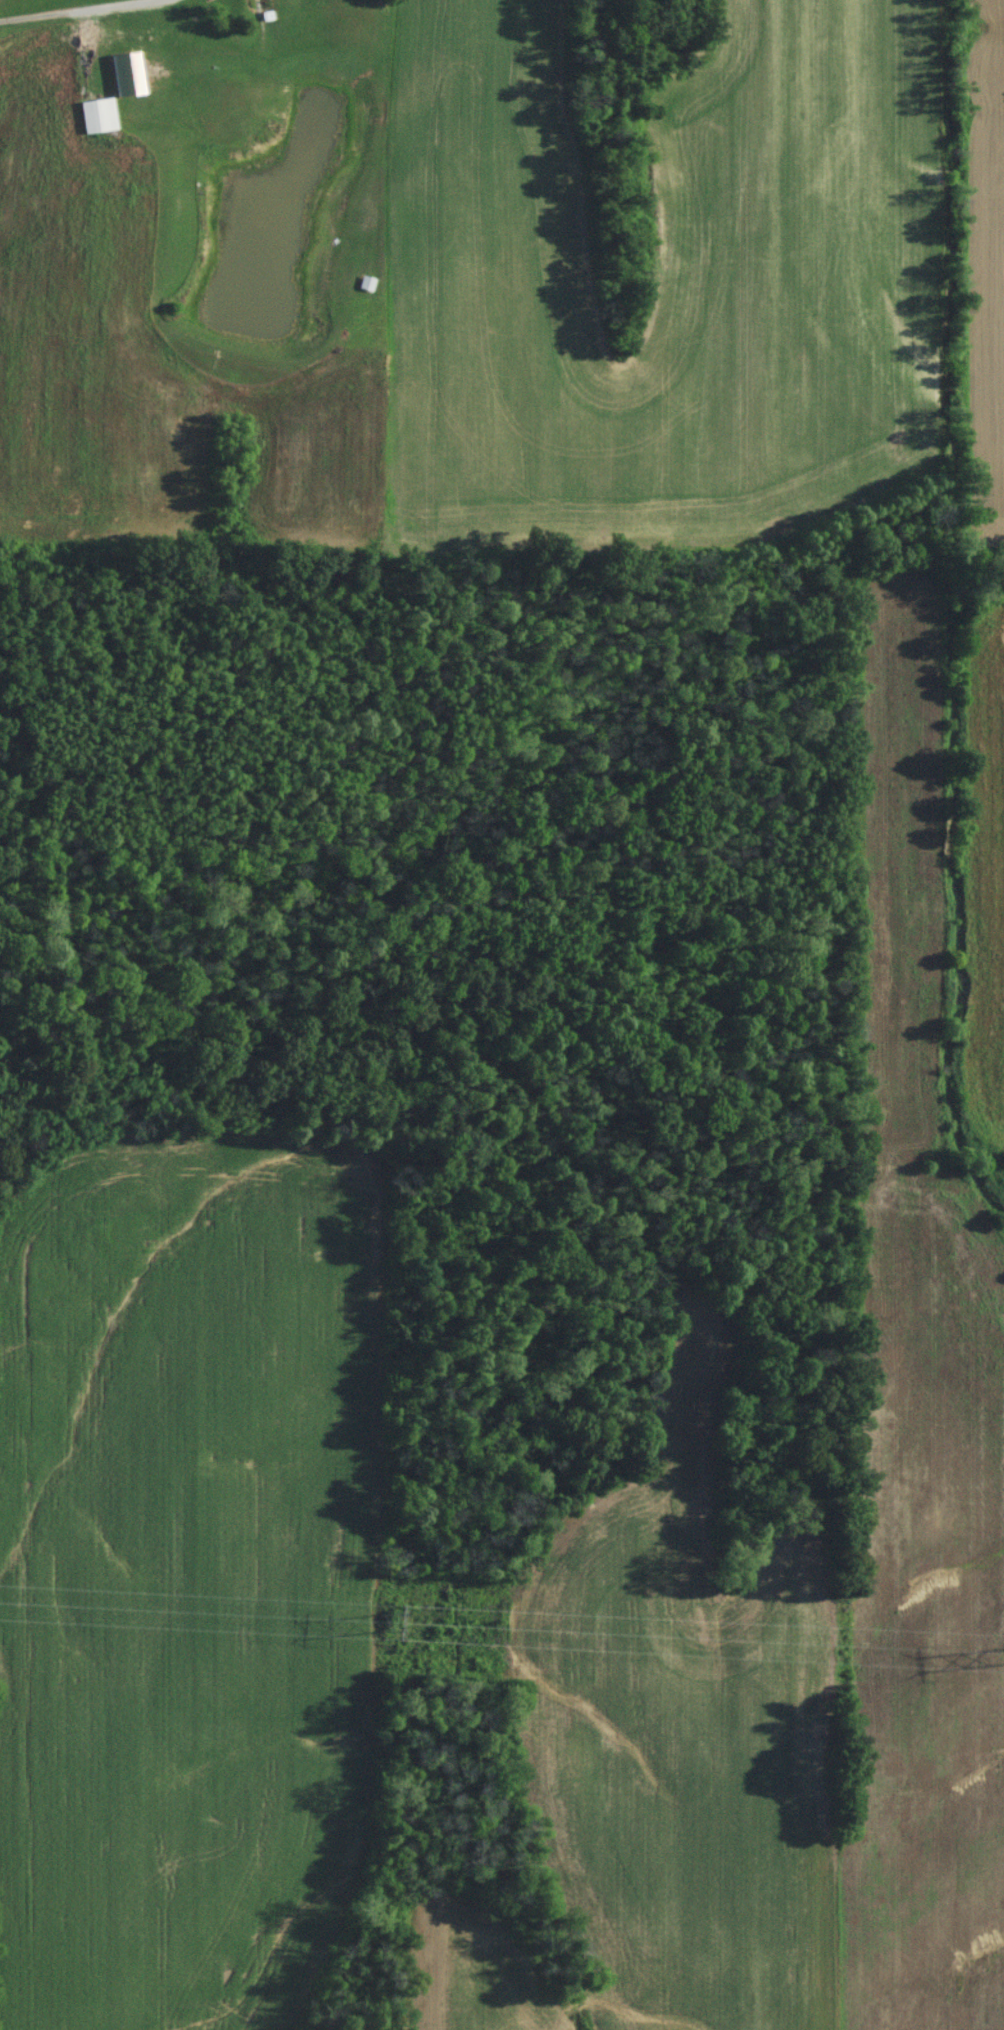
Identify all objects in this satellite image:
road: (73, 9)
building: (94, 120)
building: (363, 288)
power tower: (376, 1627)

